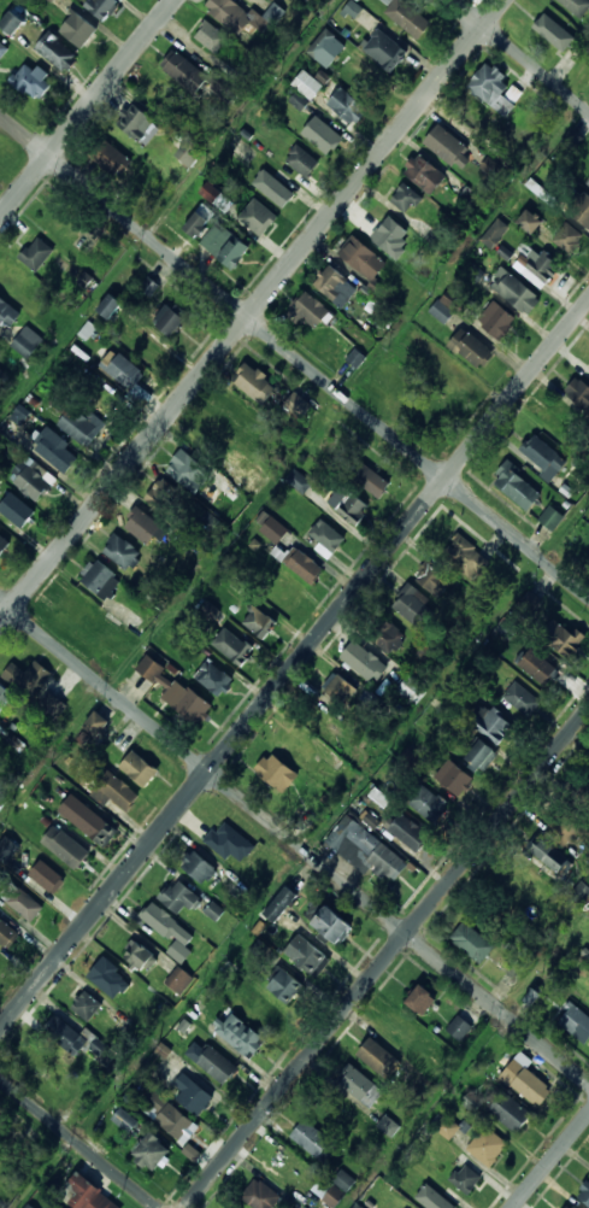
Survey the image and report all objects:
building: (577, 6)
building: (102, 7)
building: (352, 8)
building: (242, 16)
building: (407, 18)
building: (12, 23)
building: (550, 28)
building: (79, 29)
building: (210, 36)
building: (323, 43)
building: (2, 49)
building: (384, 49)
building: (57, 52)
road: (520, 55)
building: (198, 77)
building: (31, 82)
building: (307, 84)
building: (495, 89)
building: (155, 93)
building: (299, 100)
building: (348, 105)
road: (88, 109)
building: (135, 122)
building: (470, 122)
building: (323, 135)
building: (572, 140)
building: (448, 146)
building: (189, 153)
building: (112, 159)
building: (302, 160)
building: (425, 174)
building: (588, 181)
building: (588, 182)
building: (276, 188)
building: (212, 192)
building: (405, 198)
building: (582, 210)
building: (258, 219)
building: (199, 222)
building: (531, 222)
building: (378, 225)
building: (494, 233)
building: (390, 236)
building: (570, 239)
building: (225, 245)
building: (37, 254)
building: (363, 258)
building: (544, 266)
building: (476, 271)
building: (13, 276)
building: (84, 280)
building: (335, 285)
building: (147, 286)
building: (516, 291)
building: (111, 305)
building: (443, 309)
road: (253, 311)
building: (308, 311)
building: (7, 315)
building: (172, 319)
building: (497, 319)
building: (28, 342)
building: (471, 347)
road: (294, 356)
building: (588, 363)
building: (125, 374)
building: (448, 374)
building: (254, 383)
building: (579, 392)
building: (298, 406)
building: (20, 414)
building: (79, 427)
building: (270, 447)
building: (57, 450)
building: (543, 456)
building: (187, 469)
building: (254, 480)
building: (31, 481)
building: (299, 481)
building: (371, 481)
building: (518, 487)
building: (163, 494)
building: (349, 506)
building: (17, 510)
building: (552, 517)
building: (142, 526)
building: (326, 538)
building: (4, 545)
building: (122, 552)
building: (466, 557)
building: (306, 568)
building: (96, 575)
building: (434, 579)
building: (412, 605)
building: (259, 622)
building: (390, 638)
building: (560, 639)
building: (232, 646)
building: (366, 663)
road: (294, 667)
building: (151, 668)
building: (540, 669)
building: (28, 678)
building: (214, 678)
building: (338, 688)
building: (411, 690)
building: (5, 698)
building: (522, 699)
building: (188, 702)
building: (52, 705)
building: (494, 725)
building: (92, 729)
building: (302, 750)
building: (482, 755)
building: (140, 768)
building: (276, 772)
building: (454, 776)
building: (114, 792)
building: (582, 793)
building: (428, 803)
building: (570, 822)
building: (94, 825)
building: (410, 832)
building: (229, 840)
road: (294, 842)
building: (370, 845)
building: (66, 846)
building: (7, 850)
building: (552, 856)
building: (199, 866)
building: (47, 875)
building: (530, 885)
building: (581, 891)
building: (178, 895)
building: (22, 901)
building: (279, 903)
building: (334, 923)
building: (170, 931)
building: (7, 934)
building: (472, 942)
building: (306, 954)
building: (141, 956)
road: (387, 958)
building: (111, 978)
building: (179, 979)
building: (285, 985)
building: (423, 998)
building: (87, 1005)
building: (264, 1010)
building: (576, 1021)
building: (460, 1027)
building: (400, 1030)
building: (240, 1033)
building: (66, 1034)
building: (101, 1046)
building: (378, 1057)
building: (45, 1060)
building: (218, 1065)
building: (525, 1081)
building: (359, 1085)
building: (193, 1092)
building: (472, 1101)
building: (511, 1112)
building: (170, 1114)
building: (125, 1120)
building: (388, 1125)
building: (447, 1126)
building: (312, 1139)
road: (78, 1143)
building: (488, 1145)
building: (154, 1150)
road: (552, 1162)
building: (465, 1178)
building: (342, 1179)
building: (326, 1192)
building: (585, 1192)
building: (89, 1194)
building: (260, 1195)
building: (441, 1200)
building: (29, 1206)
building: (405, 1207)
building: (567, 1207)
building: (572, 1207)

